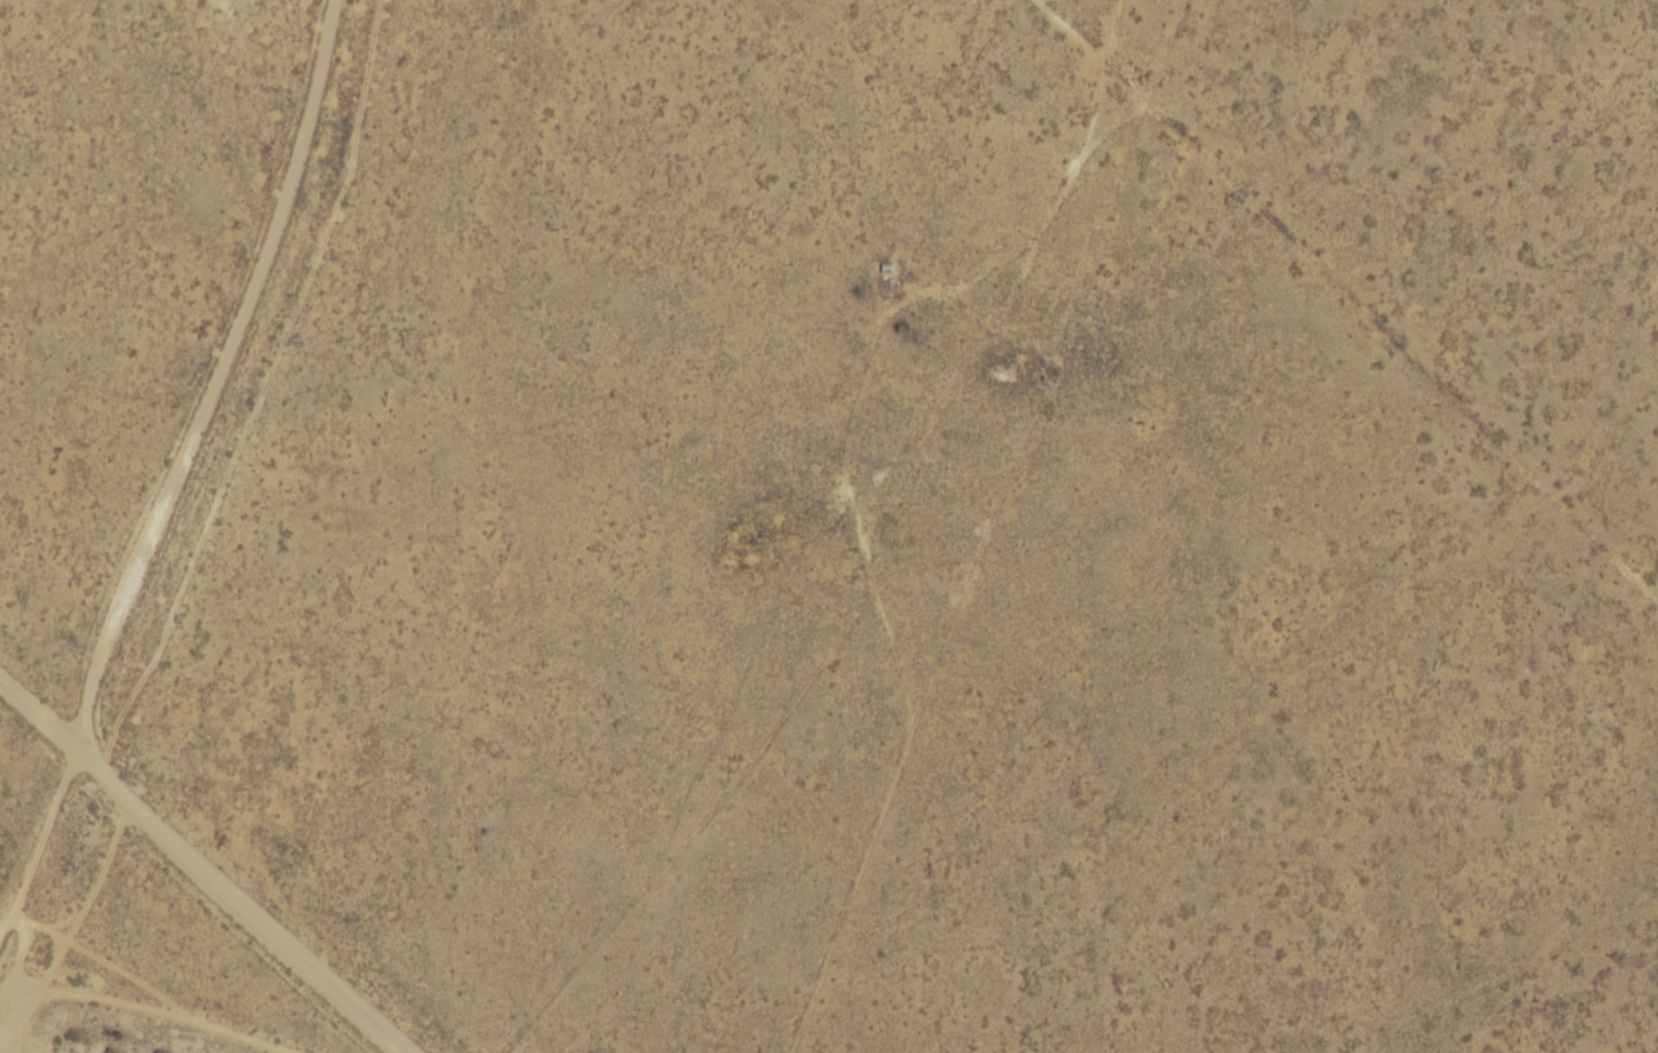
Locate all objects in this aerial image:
road: (1058, 68)
road: (212, 383)
road: (41, 808)
road: (202, 869)

